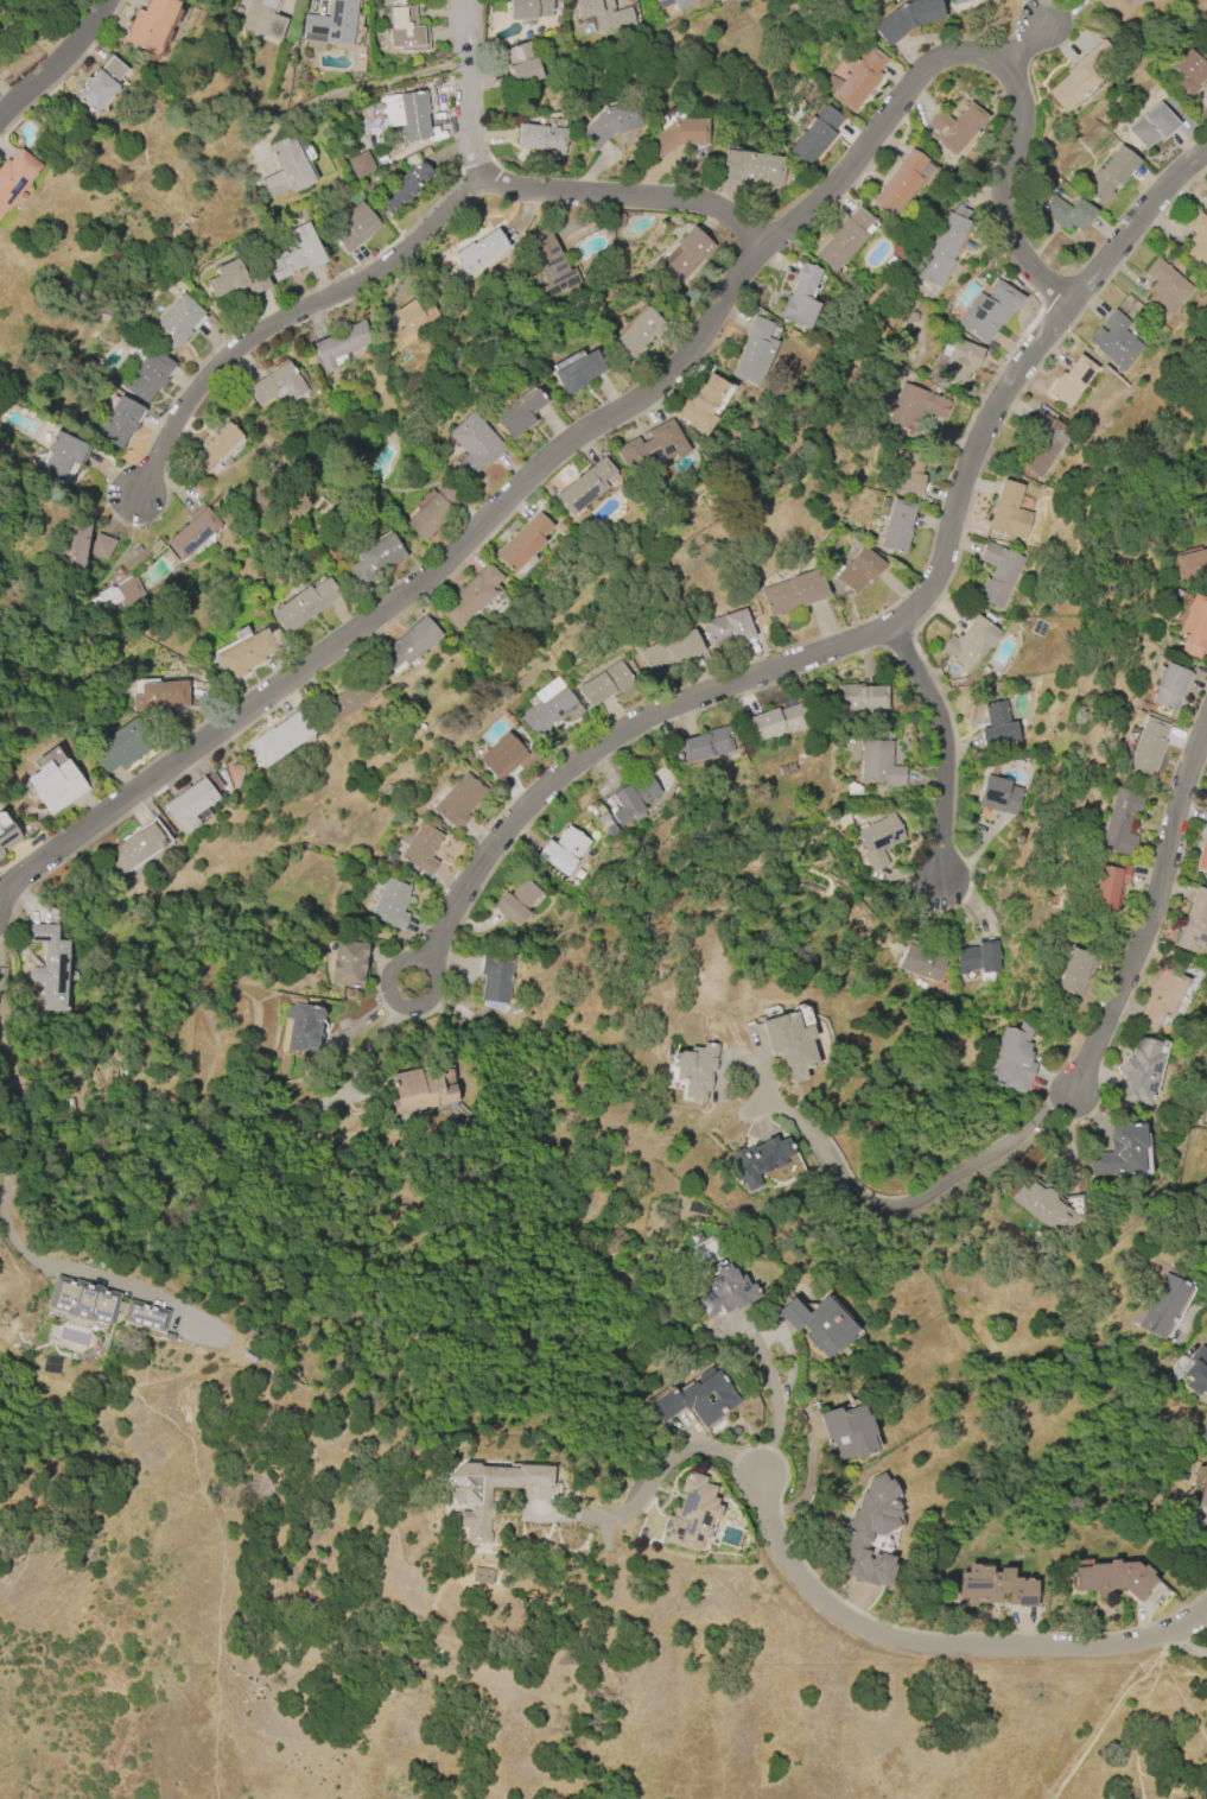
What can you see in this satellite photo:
building: (656, 1)
building: (958, 1)
building: (681, 4)
building: (1116, 7)
building: (528, 9)
building: (603, 14)
building: (906, 18)
building: (262, 19)
building: (331, 24)
building: (150, 25)
building: (406, 31)
road: (1019, 42)
road: (52, 56)
building: (521, 64)
building: (1189, 71)
building: (1082, 74)
building: (857, 78)
building: (99, 84)
road: (358, 90)
building: (405, 113)
building: (612, 123)
building: (1151, 126)
building: (955, 127)
building: (815, 135)
building: (675, 137)
building: (540, 138)
building: (360, 164)
building: (285, 167)
building: (751, 167)
building: (15, 175)
building: (1110, 175)
building: (898, 184)
building: (404, 186)
road: (540, 198)
building: (1206, 205)
building: (1206, 210)
building: (1066, 214)
building: (354, 227)
building: (1198, 236)
building: (843, 239)
building: (941, 251)
building: (479, 252)
building: (297, 253)
building: (684, 256)
building: (552, 266)
building: (237, 277)
building: (1167, 287)
building: (800, 298)
building: (1129, 308)
building: (987, 310)
road: (297, 311)
building: (414, 319)
building: (176, 322)
building: (635, 334)
building: (1116, 341)
building: (339, 343)
building: (754, 351)
building: (957, 362)
building: (578, 372)
building: (147, 375)
building: (1071, 380)
building: (275, 385)
road: (630, 399)
building: (699, 405)
building: (914, 407)
building: (520, 414)
building: (119, 422)
building: (1042, 443)
building: (472, 444)
building: (217, 446)
building: (650, 449)
building: (61, 457)
building: (907, 474)
building: (584, 486)
building: (432, 511)
building: (1008, 512)
building: (896, 526)
building: (193, 531)
building: (71, 543)
building: (522, 543)
building: (101, 547)
building: (375, 559)
building: (1189, 565)
building: (858, 570)
building: (998, 574)
building: (793, 591)
building: (121, 594)
building: (469, 596)
building: (304, 603)
building: (1194, 626)
building: (729, 627)
road: (884, 632)
building: (970, 641)
building: (408, 644)
building: (669, 650)
building: (243, 654)
building: (604, 684)
building: (1169, 686)
building: (349, 695)
building: (160, 696)
building: (859, 698)
building: (551, 711)
building: (776, 722)
building: (996, 724)
building: (280, 737)
building: (706, 745)
building: (121, 746)
road: (947, 746)
building: (1146, 748)
building: (501, 756)
building: (878, 764)
building: (56, 785)
building: (853, 788)
building: (998, 794)
building: (633, 799)
building: (458, 800)
building: (189, 803)
building: (843, 821)
building: (1118, 822)
building: (6, 834)
building: (878, 840)
building: (132, 848)
building: (421, 848)
building: (563, 850)
building: (1203, 850)
building: (1107, 886)
building: (516, 902)
building: (390, 904)
road: (1149, 905)
building: (1193, 923)
road: (420, 956)
building: (977, 958)
building: (348, 963)
building: (922, 963)
building: (49, 965)
building: (1074, 971)
building: (495, 975)
building: (1162, 999)
building: (303, 1027)
building: (789, 1043)
building: (1014, 1059)
building: (693, 1066)
building: (1139, 1072)
building: (421, 1090)
building: (1119, 1151)
building: (757, 1160)
road: (9, 1199)
road: (914, 1201)
building: (1047, 1205)
building: (723, 1292)
building: (101, 1304)
building: (1163, 1306)
building: (818, 1324)
building: (166, 1337)
building: (1198, 1370)
building: (695, 1399)
road: (775, 1399)
building: (846, 1431)
road: (653, 1481)
building: (1202, 1488)
building: (487, 1491)
building: (688, 1514)
building: (870, 1533)
building: (1111, 1578)
building: (995, 1586)
road: (940, 1645)
road: (1180, 1696)
road: (1114, 1705)
road: (1139, 1727)

